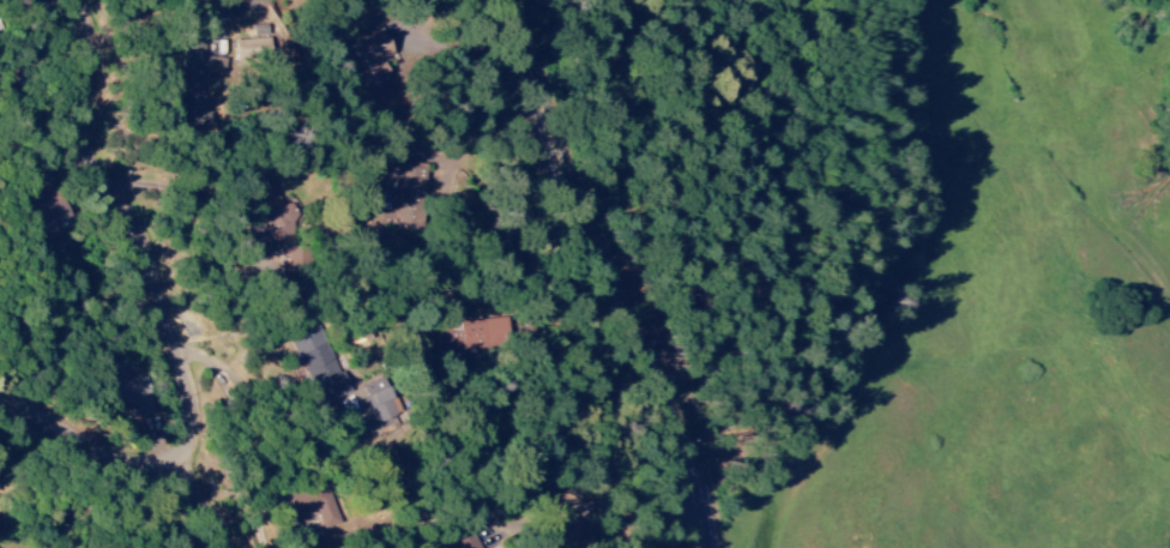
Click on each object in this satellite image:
building: (368, 60)
building: (194, 76)
building: (406, 198)
building: (42, 206)
building: (281, 223)
road: (616, 271)
road: (173, 320)
building: (462, 337)
building: (316, 365)
building: (127, 391)
building: (378, 399)
road: (209, 502)
building: (313, 504)
building: (468, 541)

